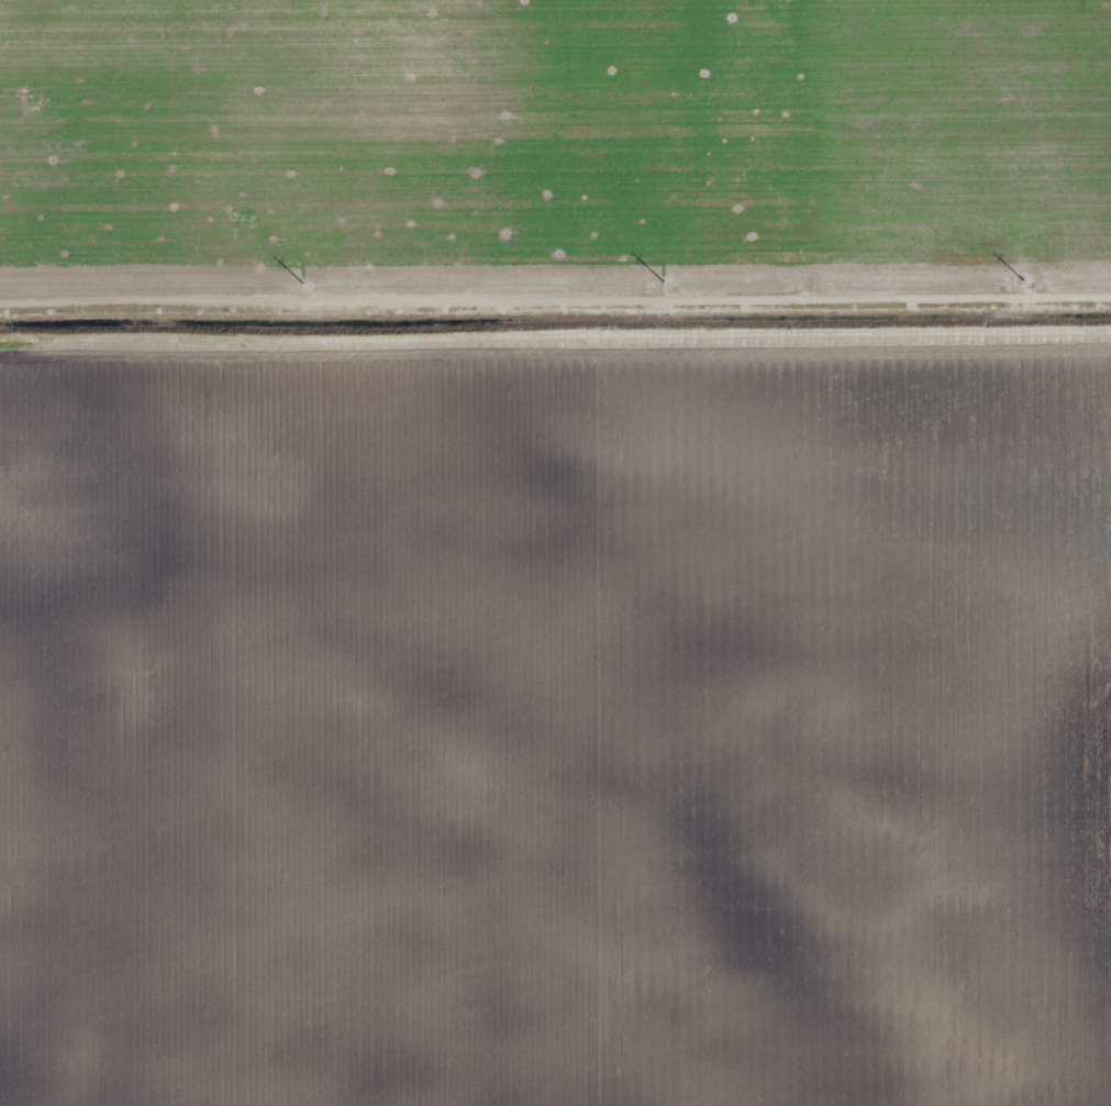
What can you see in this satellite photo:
power tower: (1030, 287)
power tower: (670, 290)
power tower: (309, 292)
road: (555, 303)

